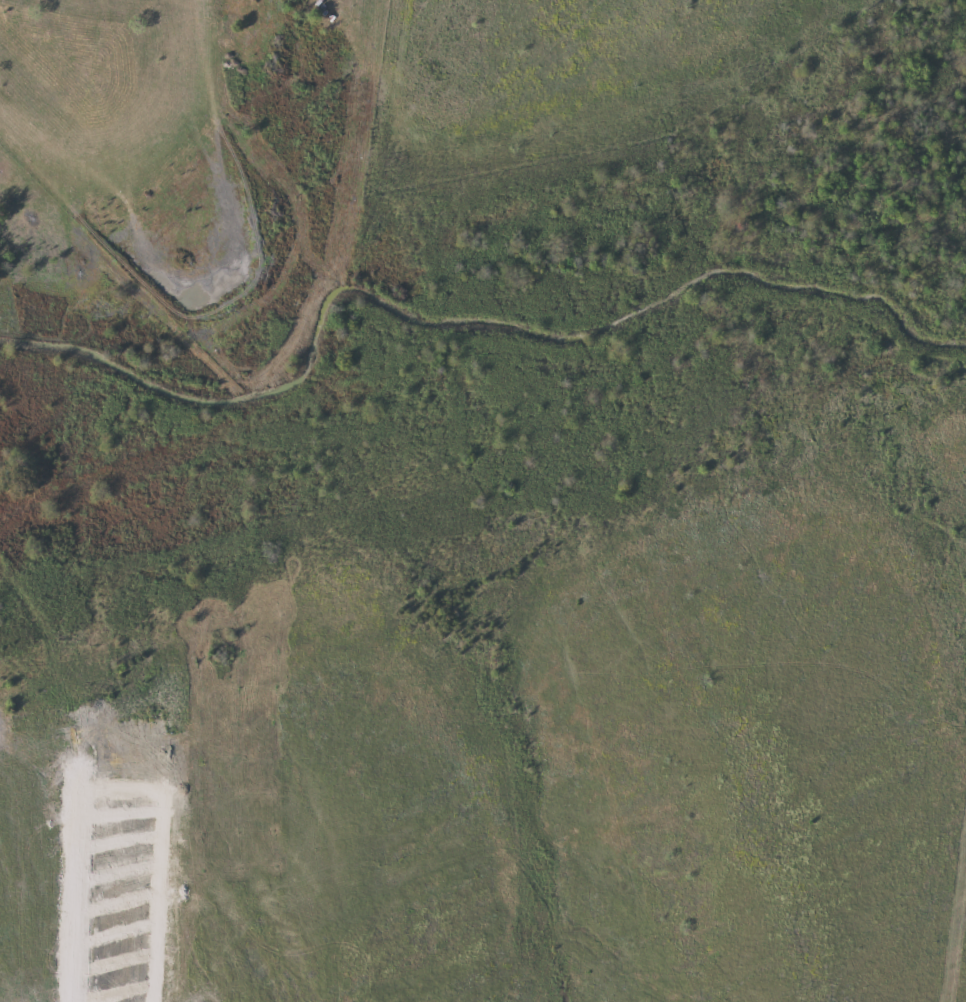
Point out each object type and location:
road: (75, 895)

